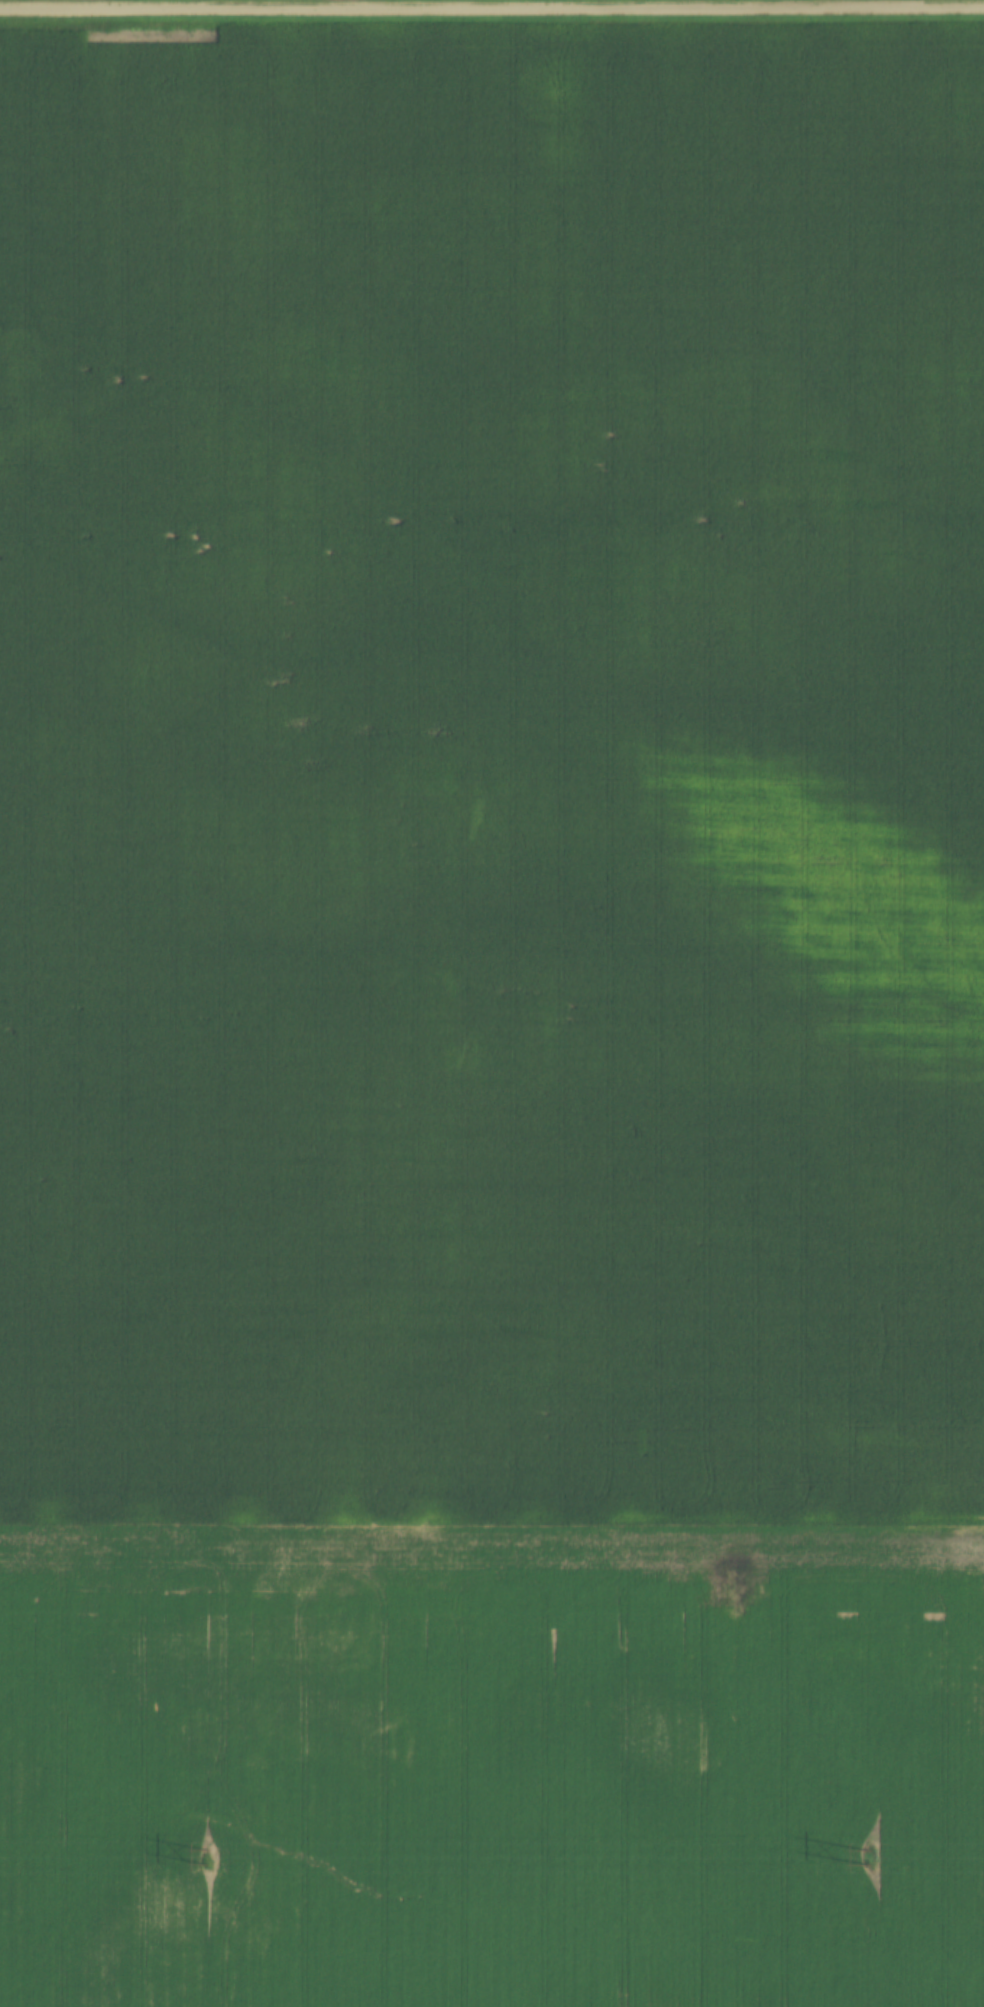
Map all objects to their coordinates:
road: (491, 7)
crop: (492, 1014)
power tower: (205, 1859)
power tower: (871, 1859)

